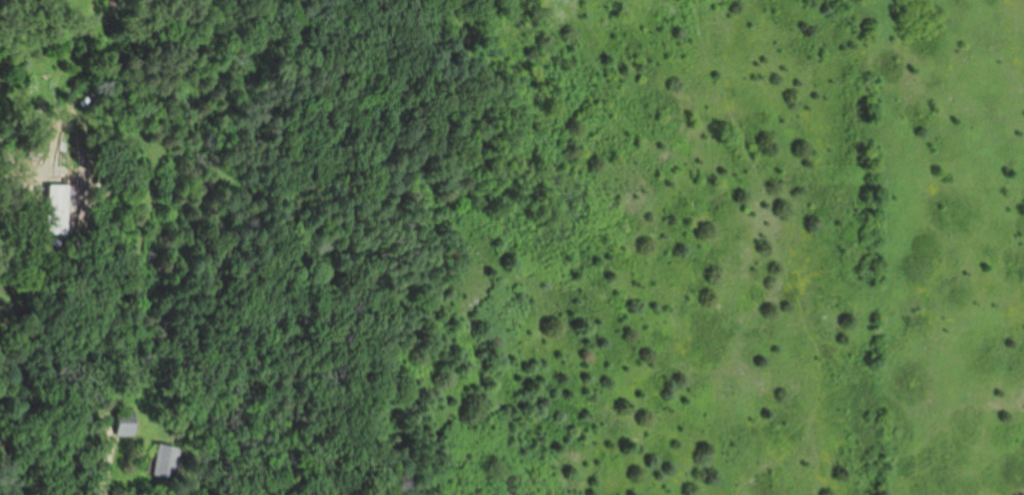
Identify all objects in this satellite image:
road: (63, 8)
building: (57, 209)
park: (642, 246)
building: (126, 423)
building: (165, 460)
road: (13, 465)
road: (108, 467)

